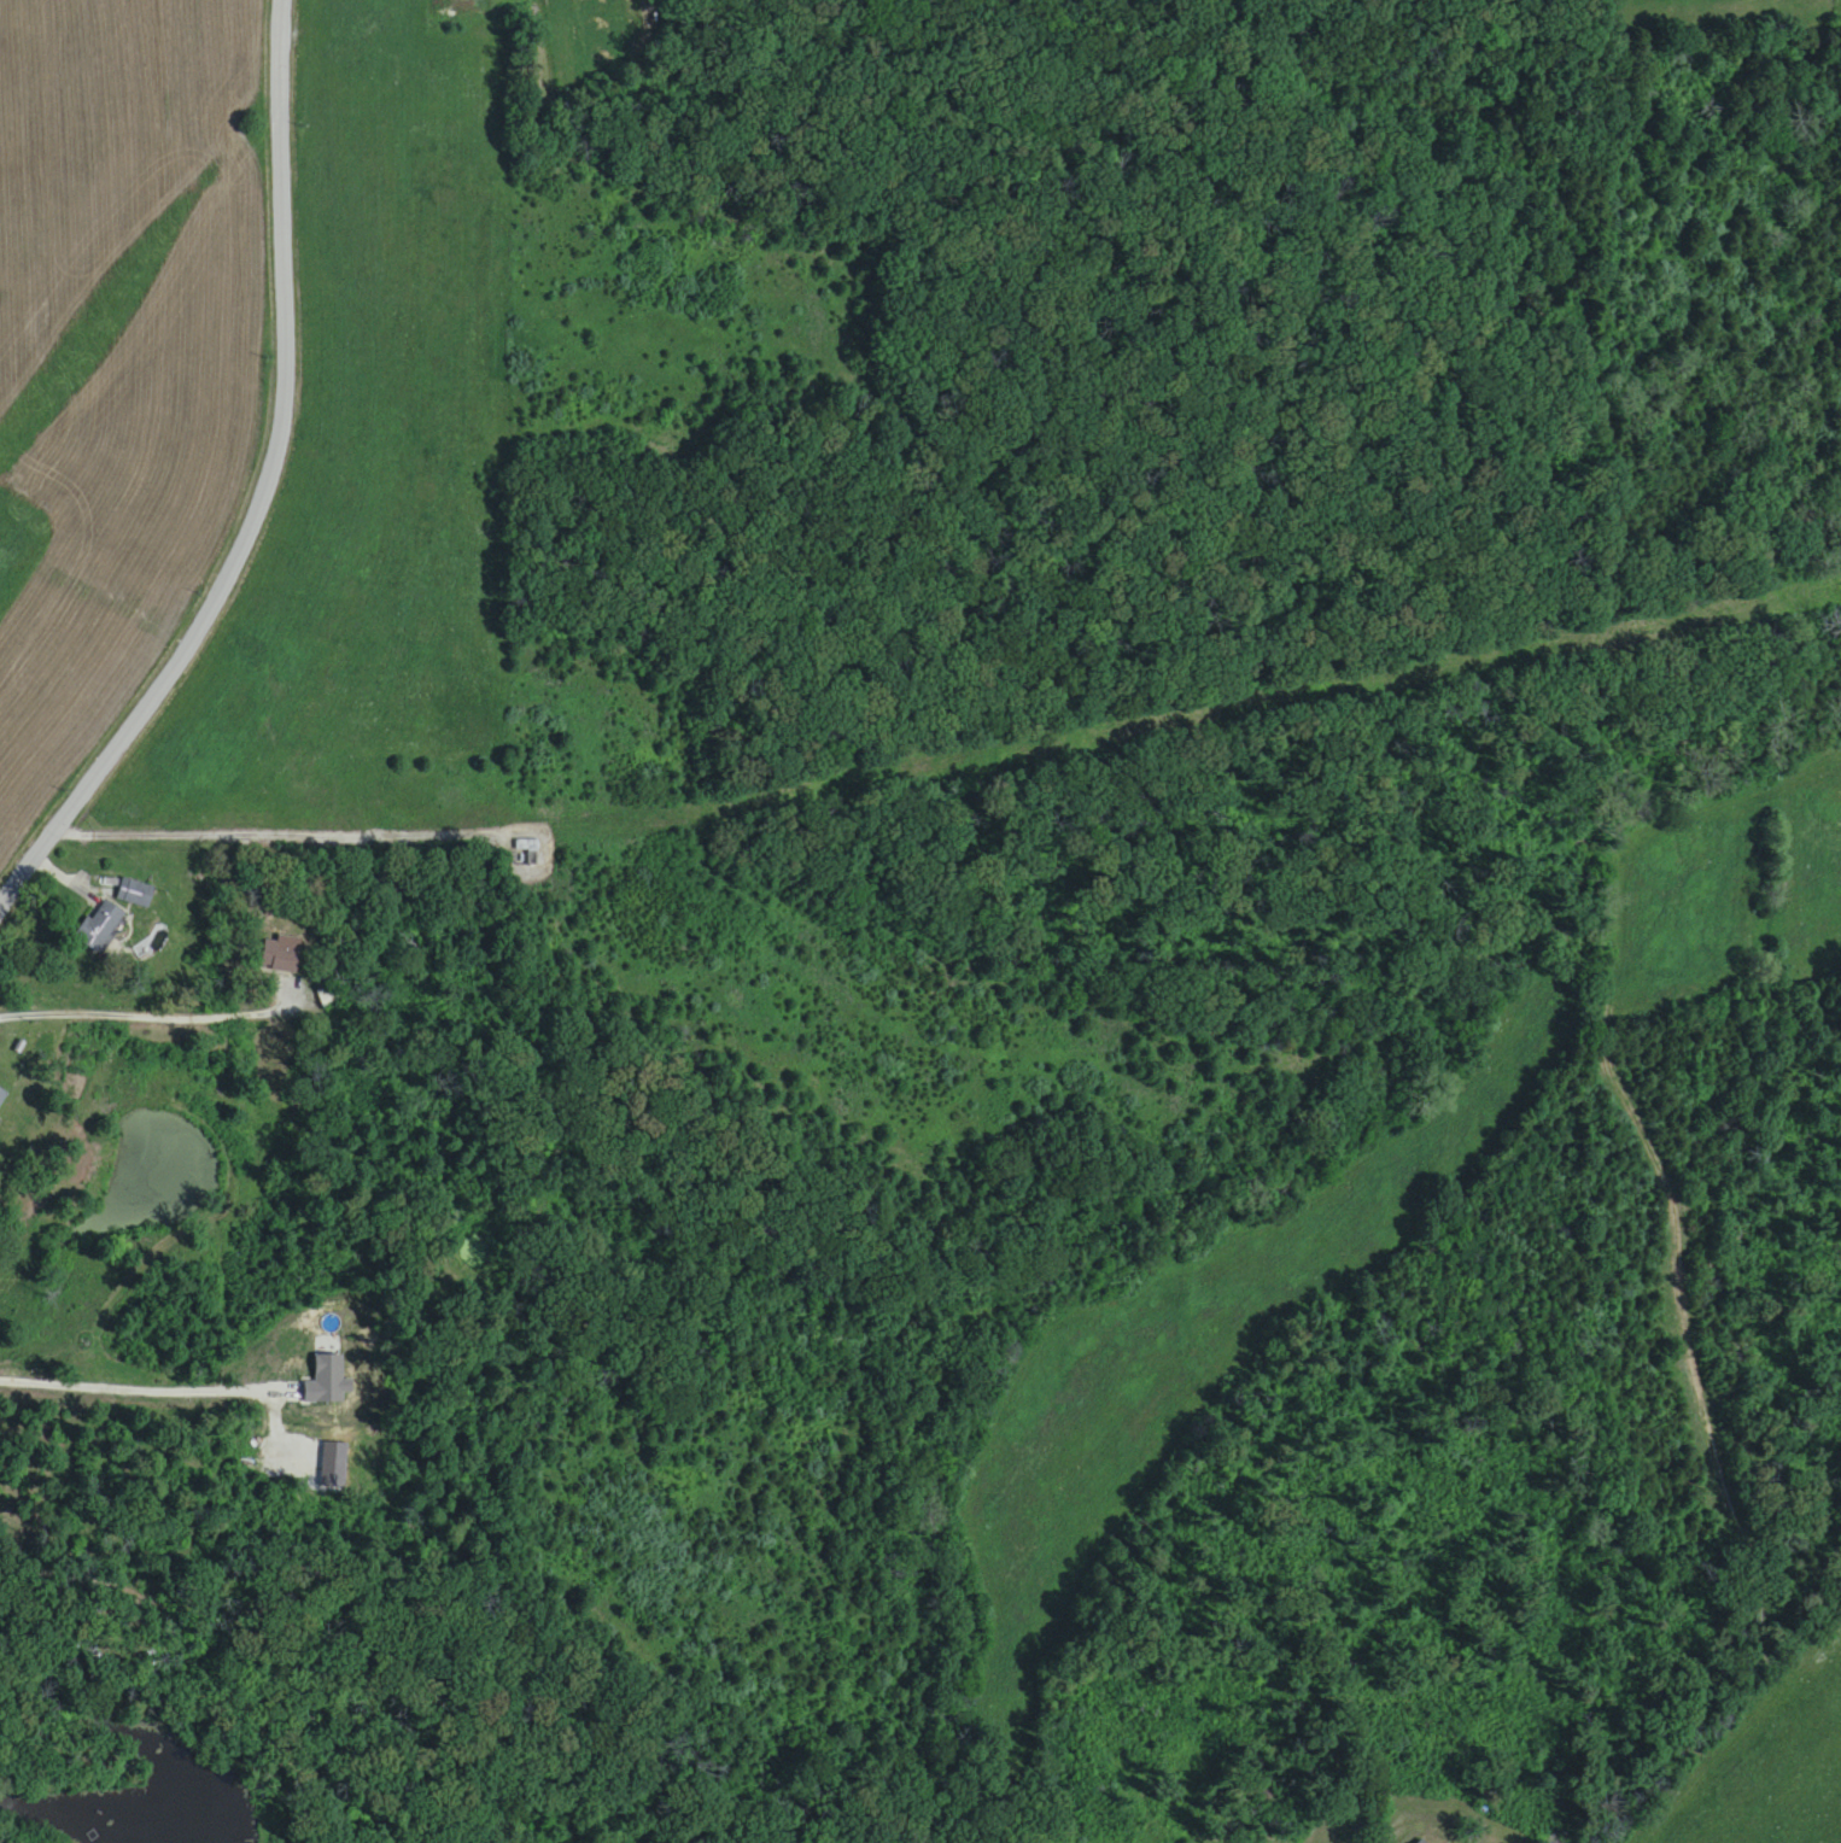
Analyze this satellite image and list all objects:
road: (262, 492)
road: (949, 770)
building: (527, 853)
building: (134, 894)
building: (99, 926)
building: (281, 955)
building: (329, 997)
road: (151, 1018)
building: (0, 1094)
road: (130, 1382)
building: (1422, 1842)

